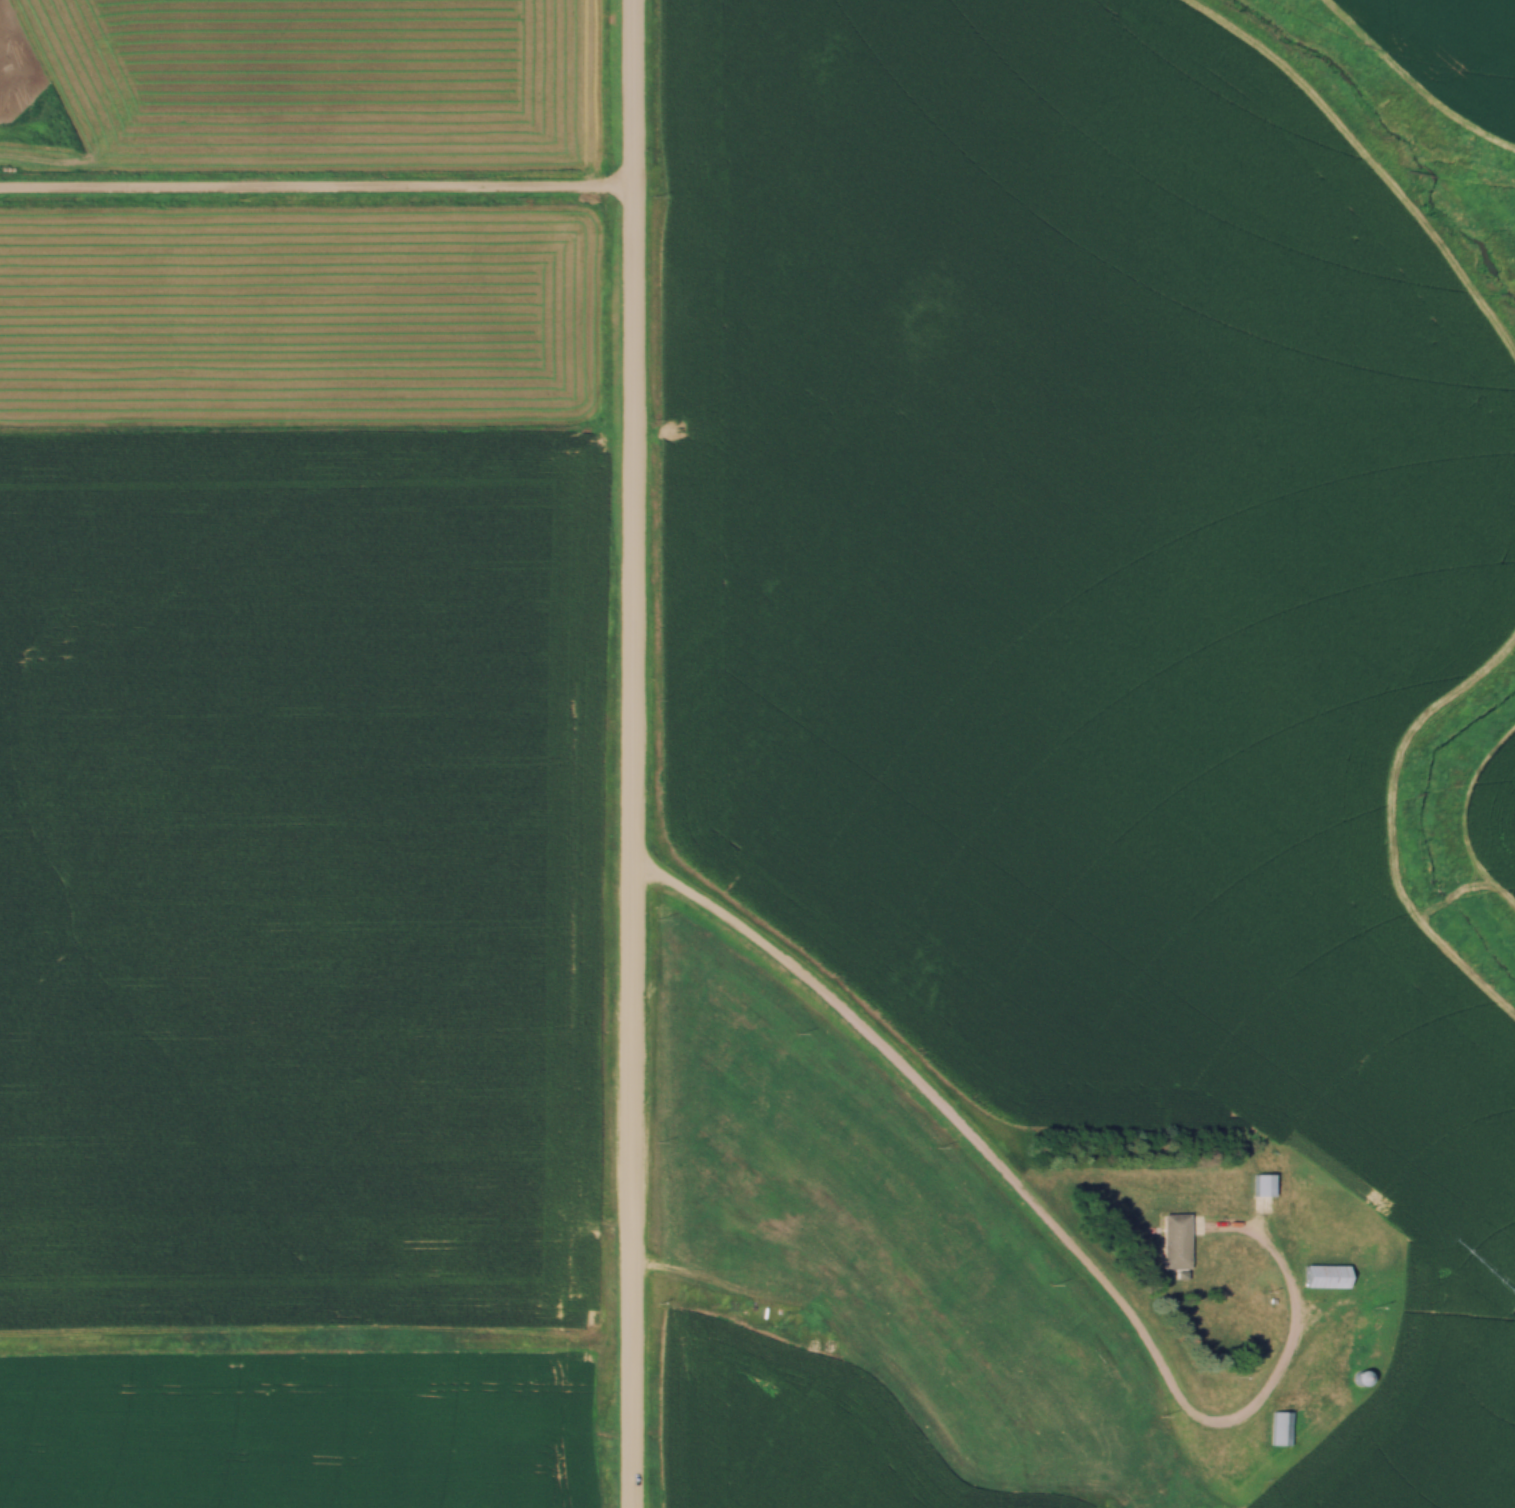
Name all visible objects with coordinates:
road: (317, 191)
road: (633, 753)
road: (648, 866)
building: (1262, 1184)
road: (1051, 1223)
building: (1175, 1241)
building: (1325, 1276)
building: (1281, 1428)

